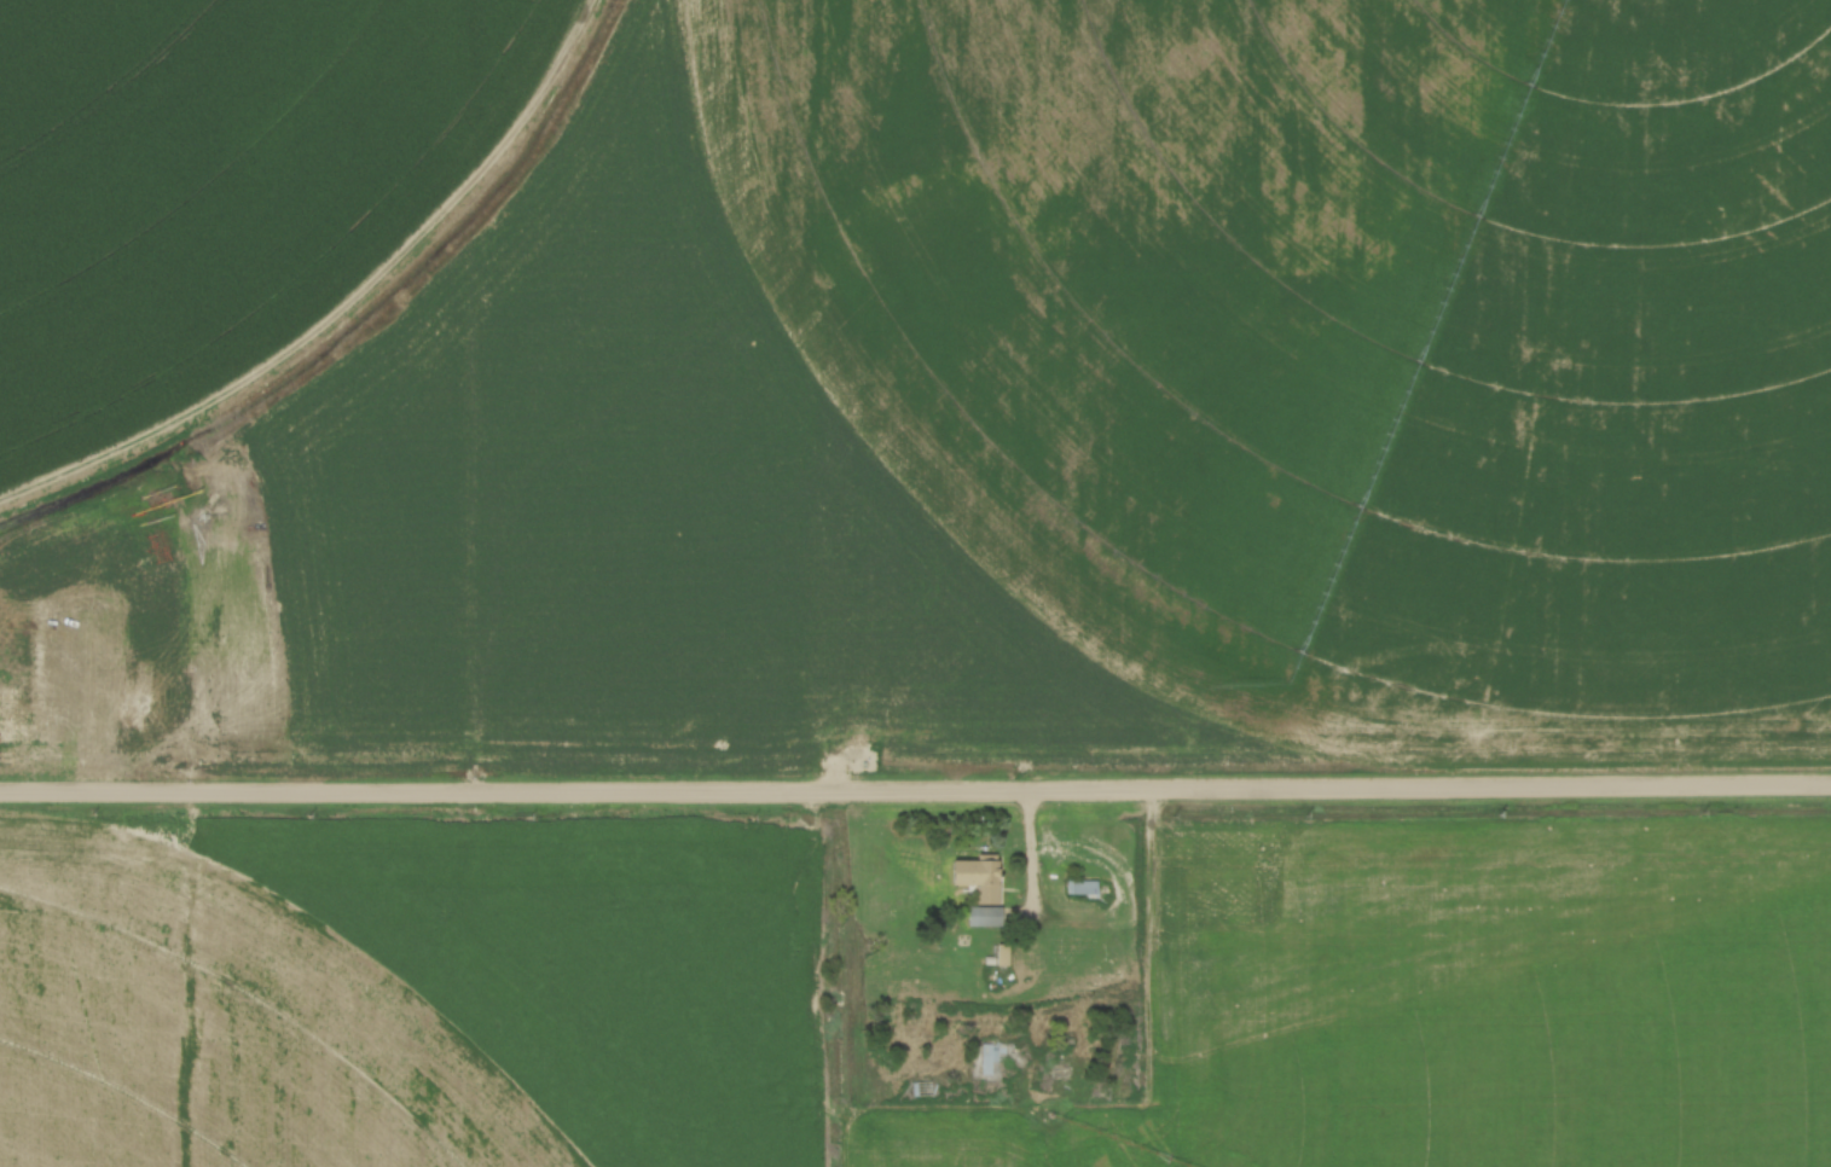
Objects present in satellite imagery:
road: (915, 795)
building: (979, 878)
building: (1082, 887)
building: (984, 1061)
building: (922, 1087)

